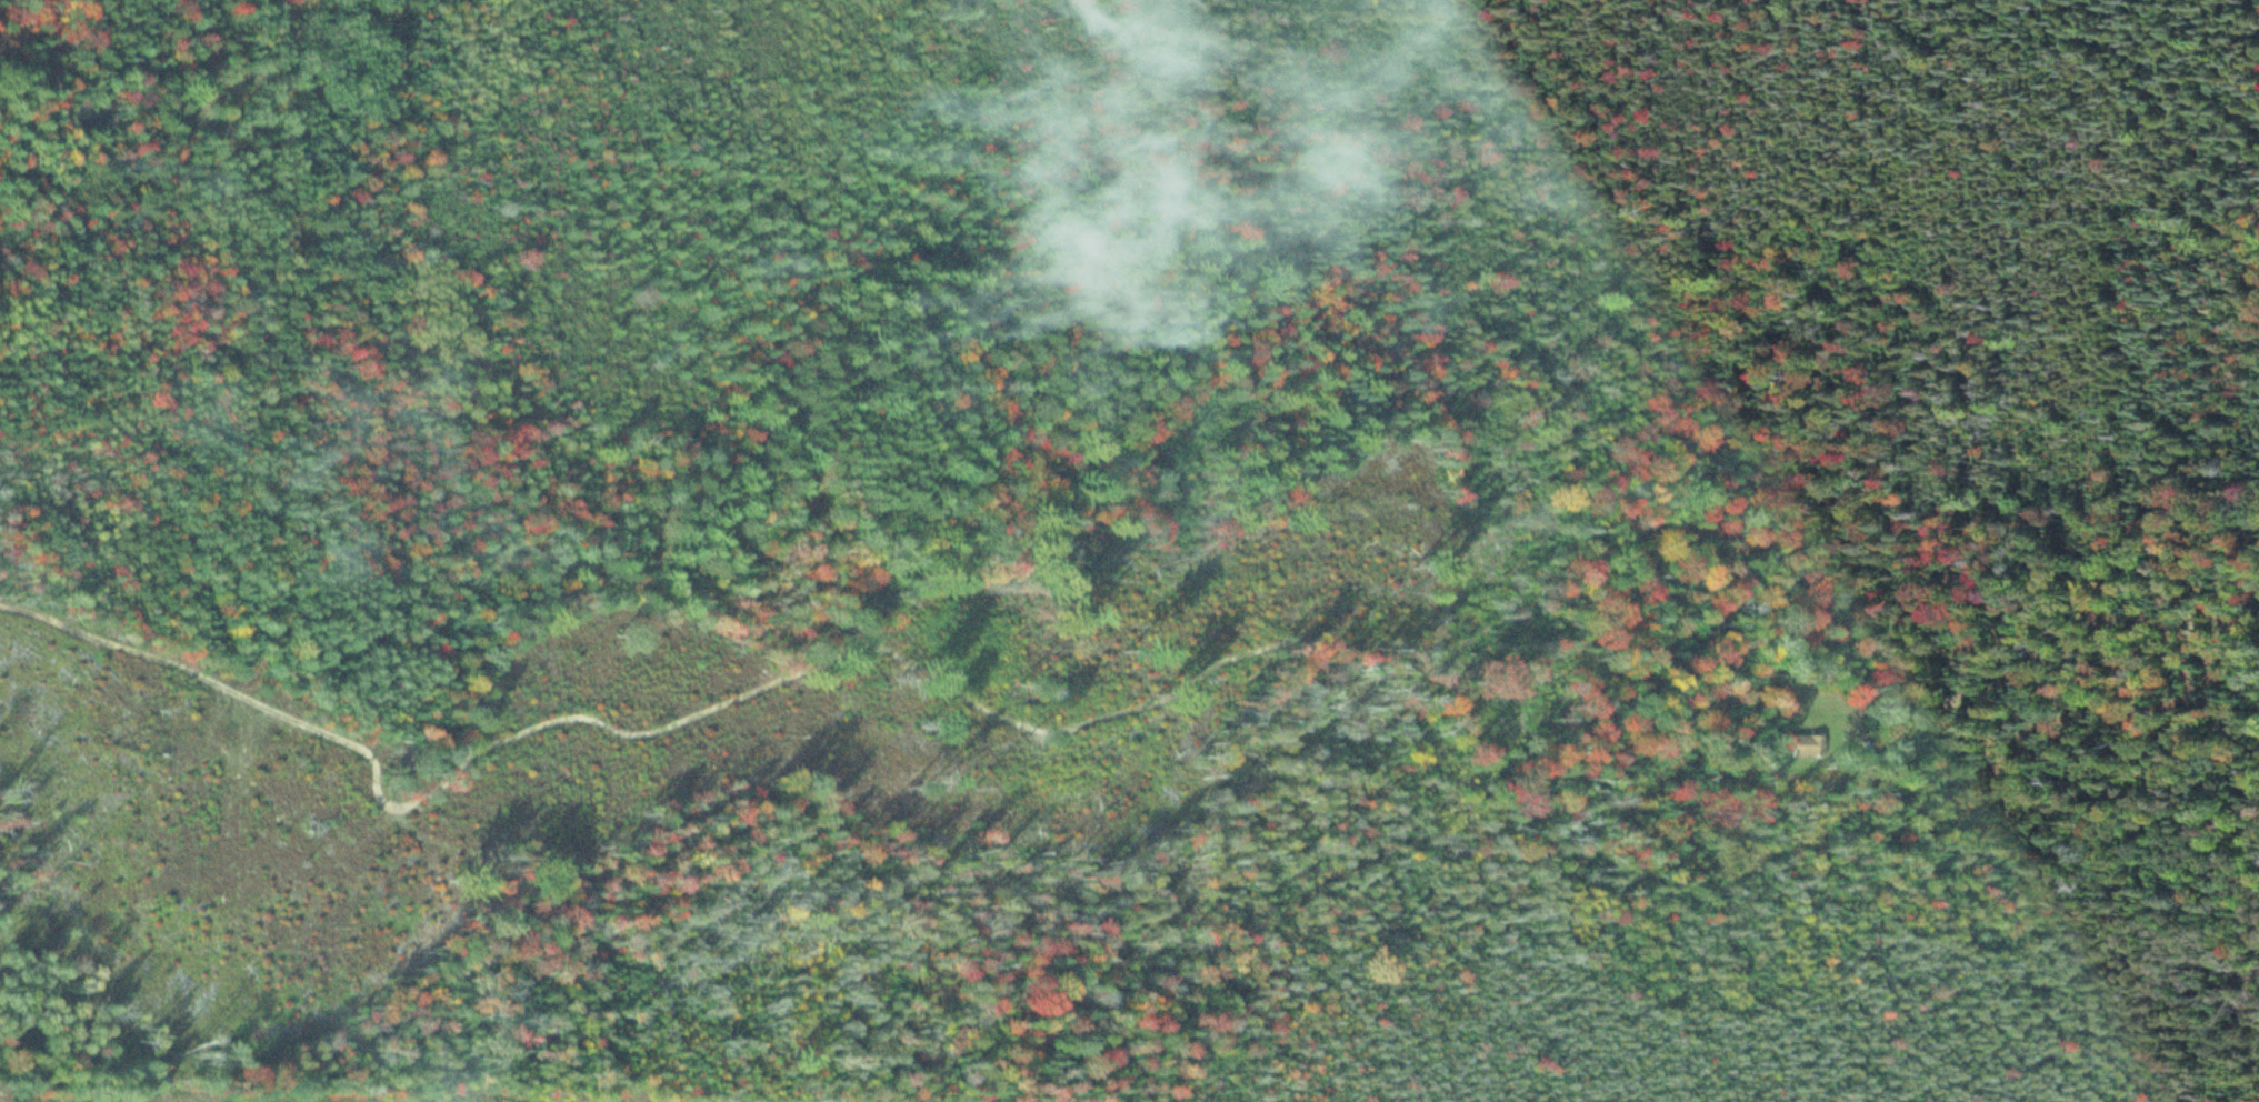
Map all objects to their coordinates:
road: (2067, 719)

